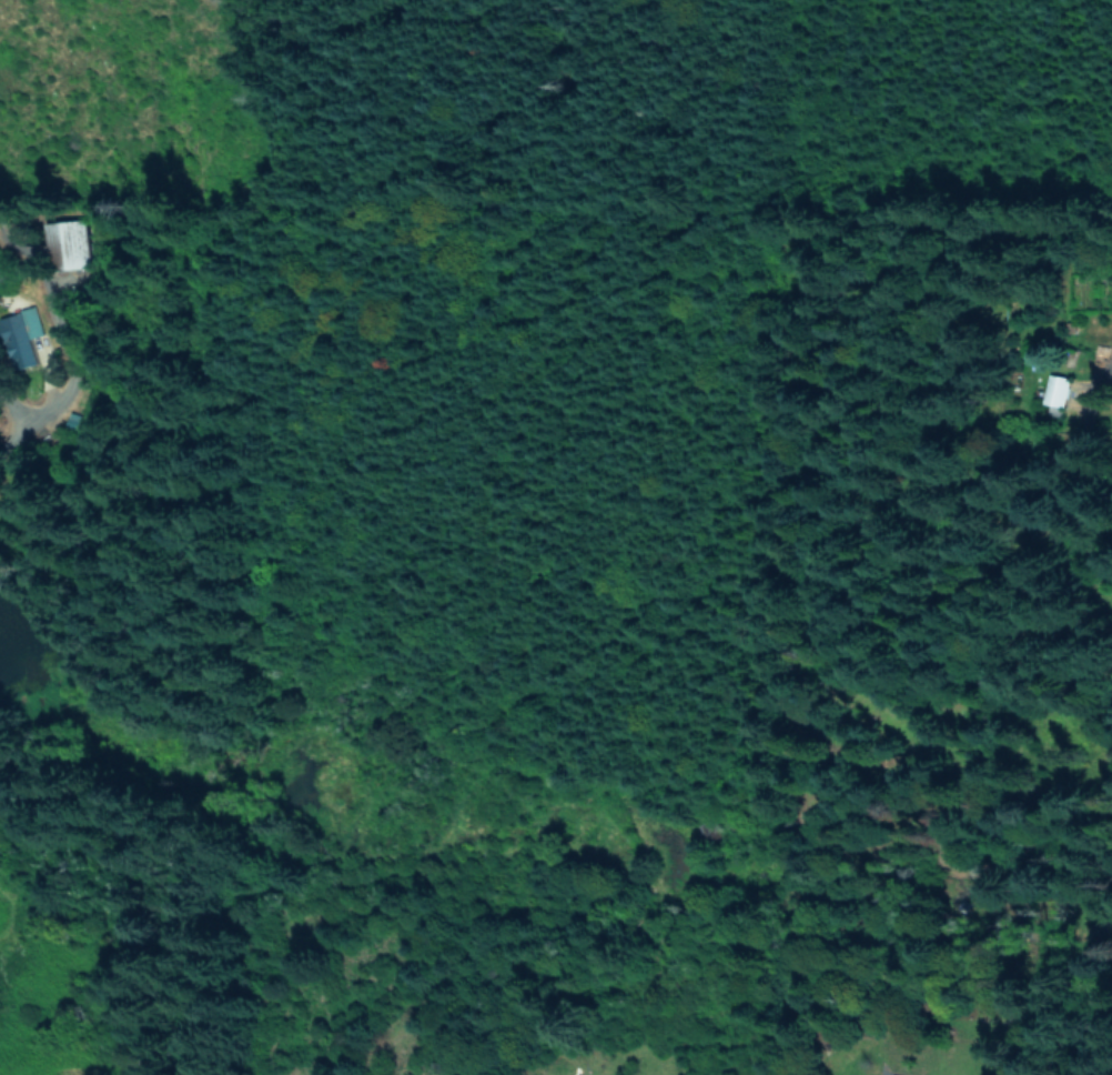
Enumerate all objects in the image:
building: (78, 241)
building: (19, 336)
building: (1061, 389)
building: (892, 1074)

